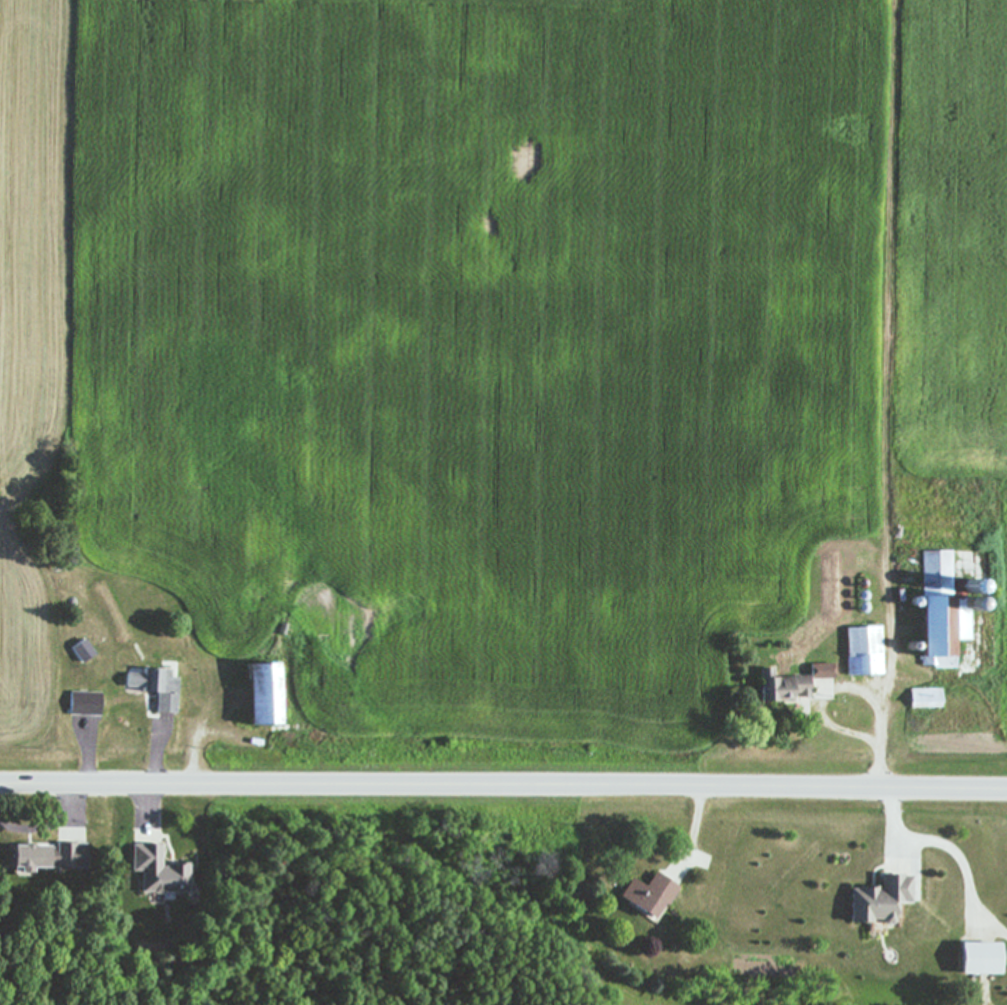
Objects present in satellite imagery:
building: (938, 613)
building: (860, 652)
building: (819, 672)
building: (152, 688)
building: (779, 690)
building: (257, 695)
building: (923, 699)
building: (81, 704)
road: (884, 742)
road: (91, 758)
road: (153, 781)
road: (503, 786)
road: (75, 803)
road: (698, 829)
road: (940, 842)
building: (45, 857)
building: (154, 871)
building: (646, 895)
building: (876, 901)
building: (975, 960)

